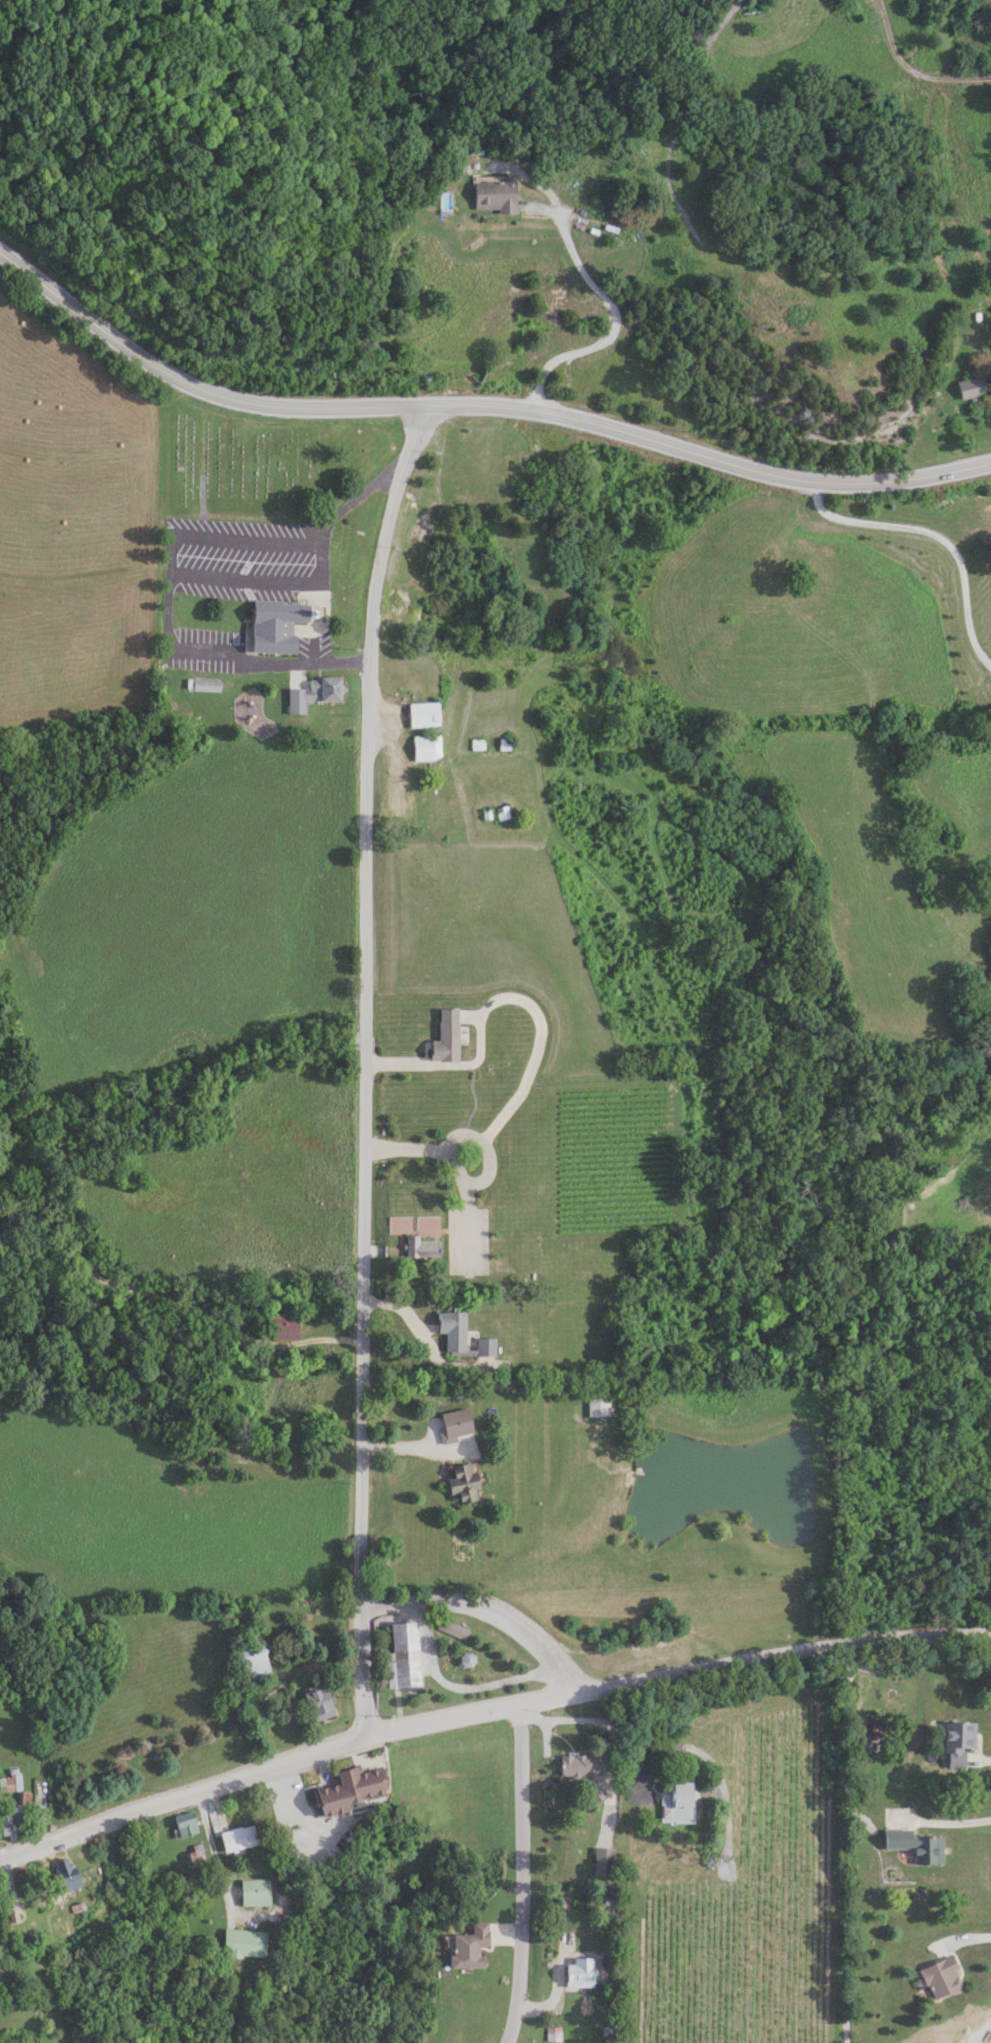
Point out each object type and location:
building: (494, 193)
road: (611, 325)
road: (193, 386)
building: (970, 387)
road: (708, 455)
road: (355, 498)
road: (933, 535)
road: (177, 571)
building: (276, 627)
road: (230, 657)
building: (205, 685)
building: (313, 694)
building: (423, 714)
building: (425, 747)
building: (397, 797)
road: (539, 1034)
building: (445, 1036)
road: (362, 1066)
building: (421, 1247)
building: (282, 1327)
building: (452, 1330)
building: (597, 1405)
road: (401, 1445)
building: (464, 1483)
road: (480, 1611)
building: (455, 1629)
building: (403, 1654)
building: (463, 1657)
building: (252, 1662)
road: (676, 1675)
building: (317, 1703)
building: (958, 1741)
building: (584, 1770)
building: (348, 1788)
road: (180, 1796)
building: (676, 1801)
building: (11, 1824)
building: (186, 1826)
road: (939, 1827)
building: (238, 1838)
road: (211, 1842)
road: (842, 1843)
building: (919, 1846)
building: (603, 1861)
building: (64, 1874)
road: (516, 1874)
building: (254, 1891)
building: (243, 1942)
building: (468, 1946)
building: (579, 1971)
building: (942, 1976)
road: (982, 2030)

